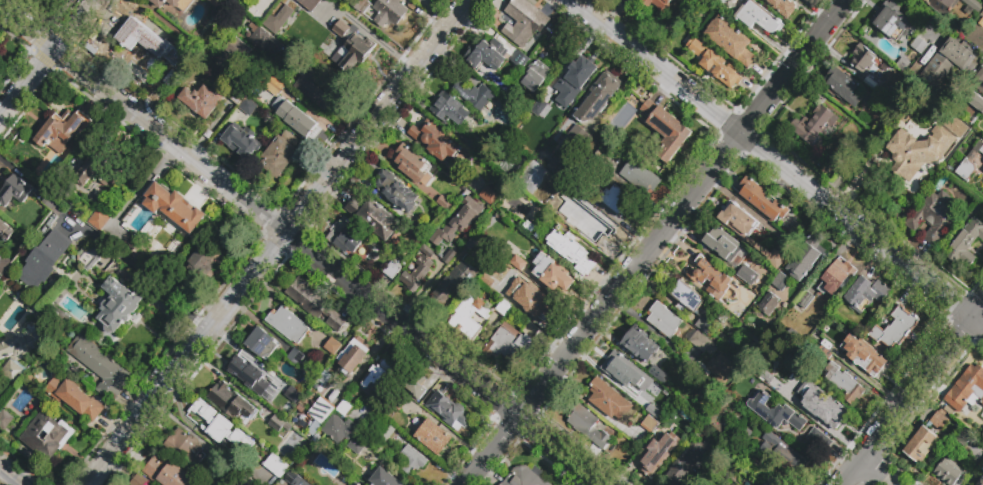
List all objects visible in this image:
building: (209, 0)
building: (164, 3)
building: (308, 3)
building: (659, 4)
building: (359, 5)
building: (972, 5)
building: (782, 6)
building: (943, 6)
building: (319, 7)
building: (389, 12)
building: (757, 18)
building: (278, 19)
building: (526, 19)
building: (893, 21)
road: (25, 29)
building: (328, 30)
building: (141, 39)
building: (266, 41)
building: (730, 41)
building: (919, 45)
building: (238, 50)
building: (353, 52)
building: (487, 55)
road: (45, 57)
building: (862, 59)
building: (521, 60)
building: (716, 64)
building: (903, 64)
building: (944, 69)
building: (535, 77)
building: (578, 78)
building: (845, 87)
building: (276, 88)
building: (317, 90)
building: (980, 91)
building: (884, 92)
building: (474, 95)
building: (237, 97)
building: (597, 99)
building: (201, 101)
building: (977, 104)
building: (248, 107)
building: (927, 107)
building: (449, 109)
building: (545, 109)
building: (513, 117)
building: (295, 119)
building: (815, 125)
building: (955, 126)
building: (275, 128)
building: (667, 131)
building: (63, 132)
building: (577, 138)
building: (240, 141)
building: (434, 141)
building: (917, 151)
building: (981, 151)
building: (278, 157)
building: (467, 157)
road: (778, 162)
building: (511, 164)
building: (100, 166)
building: (410, 166)
building: (555, 167)
building: (965, 170)
building: (535, 171)
building: (639, 177)
building: (485, 182)
building: (581, 188)
building: (15, 191)
building: (396, 192)
building: (487, 195)
building: (762, 200)
building: (619, 203)
building: (52, 204)
building: (174, 207)
building: (374, 218)
building: (933, 218)
building: (99, 219)
building: (417, 223)
building: (458, 223)
building: (597, 225)
building: (532, 230)
building: (5, 231)
building: (748, 233)
building: (349, 239)
building: (775, 239)
road: (276, 241)
road: (655, 241)
building: (965, 242)
building: (473, 245)
building: (722, 245)
building: (571, 251)
building: (427, 252)
building: (92, 256)
building: (449, 257)
building: (805, 258)
building: (45, 260)
building: (206, 262)
building: (517, 263)
building: (3, 264)
building: (463, 266)
road: (326, 267)
building: (392, 271)
building: (551, 273)
building: (416, 274)
building: (747, 274)
building: (498, 275)
building: (709, 277)
building: (836, 278)
building: (780, 281)
building: (448, 286)
building: (514, 287)
building: (190, 292)
building: (865, 294)
building: (686, 296)
building: (805, 300)
building: (536, 302)
building: (119, 304)
building: (314, 305)
building: (768, 305)
building: (503, 308)
building: (57, 316)
building: (469, 317)
building: (515, 319)
building: (664, 320)
building: (288, 326)
building: (895, 329)
building: (790, 340)
building: (702, 343)
building: (262, 344)
building: (509, 345)
building: (639, 345)
building: (22, 346)
building: (332, 347)
building: (828, 349)
building: (352, 356)
building: (864, 356)
building: (296, 357)
building: (617, 364)
building: (778, 365)
building: (100, 367)
building: (720, 369)
building: (246, 370)
building: (12, 371)
building: (378, 376)
building: (324, 378)
building: (278, 382)
building: (414, 384)
building: (844, 384)
building: (966, 389)
road: (911, 394)
building: (646, 395)
building: (812, 397)
building: (75, 399)
building: (607, 399)
building: (231, 402)
building: (404, 403)
building: (343, 408)
building: (948, 411)
building: (448, 412)
building: (776, 413)
building: (319, 415)
building: (939, 421)
building: (5, 422)
building: (217, 426)
building: (278, 426)
building: (588, 427)
building: (339, 429)
building: (385, 433)
building: (47, 437)
building: (433, 437)
building: (742, 438)
building: (819, 440)
building: (964, 442)
building: (921, 444)
building: (184, 447)
building: (356, 447)
building: (779, 453)
building: (657, 454)
building: (411, 460)
building: (218, 462)
building: (688, 462)
building: (754, 465)
building: (276, 466)
building: (165, 471)
road: (877, 472)
building: (947, 473)
road: (12, 474)
building: (525, 477)
building: (383, 478)
building: (298, 481)
building: (980, 481)
building: (354, 483)
building: (768, 483)

